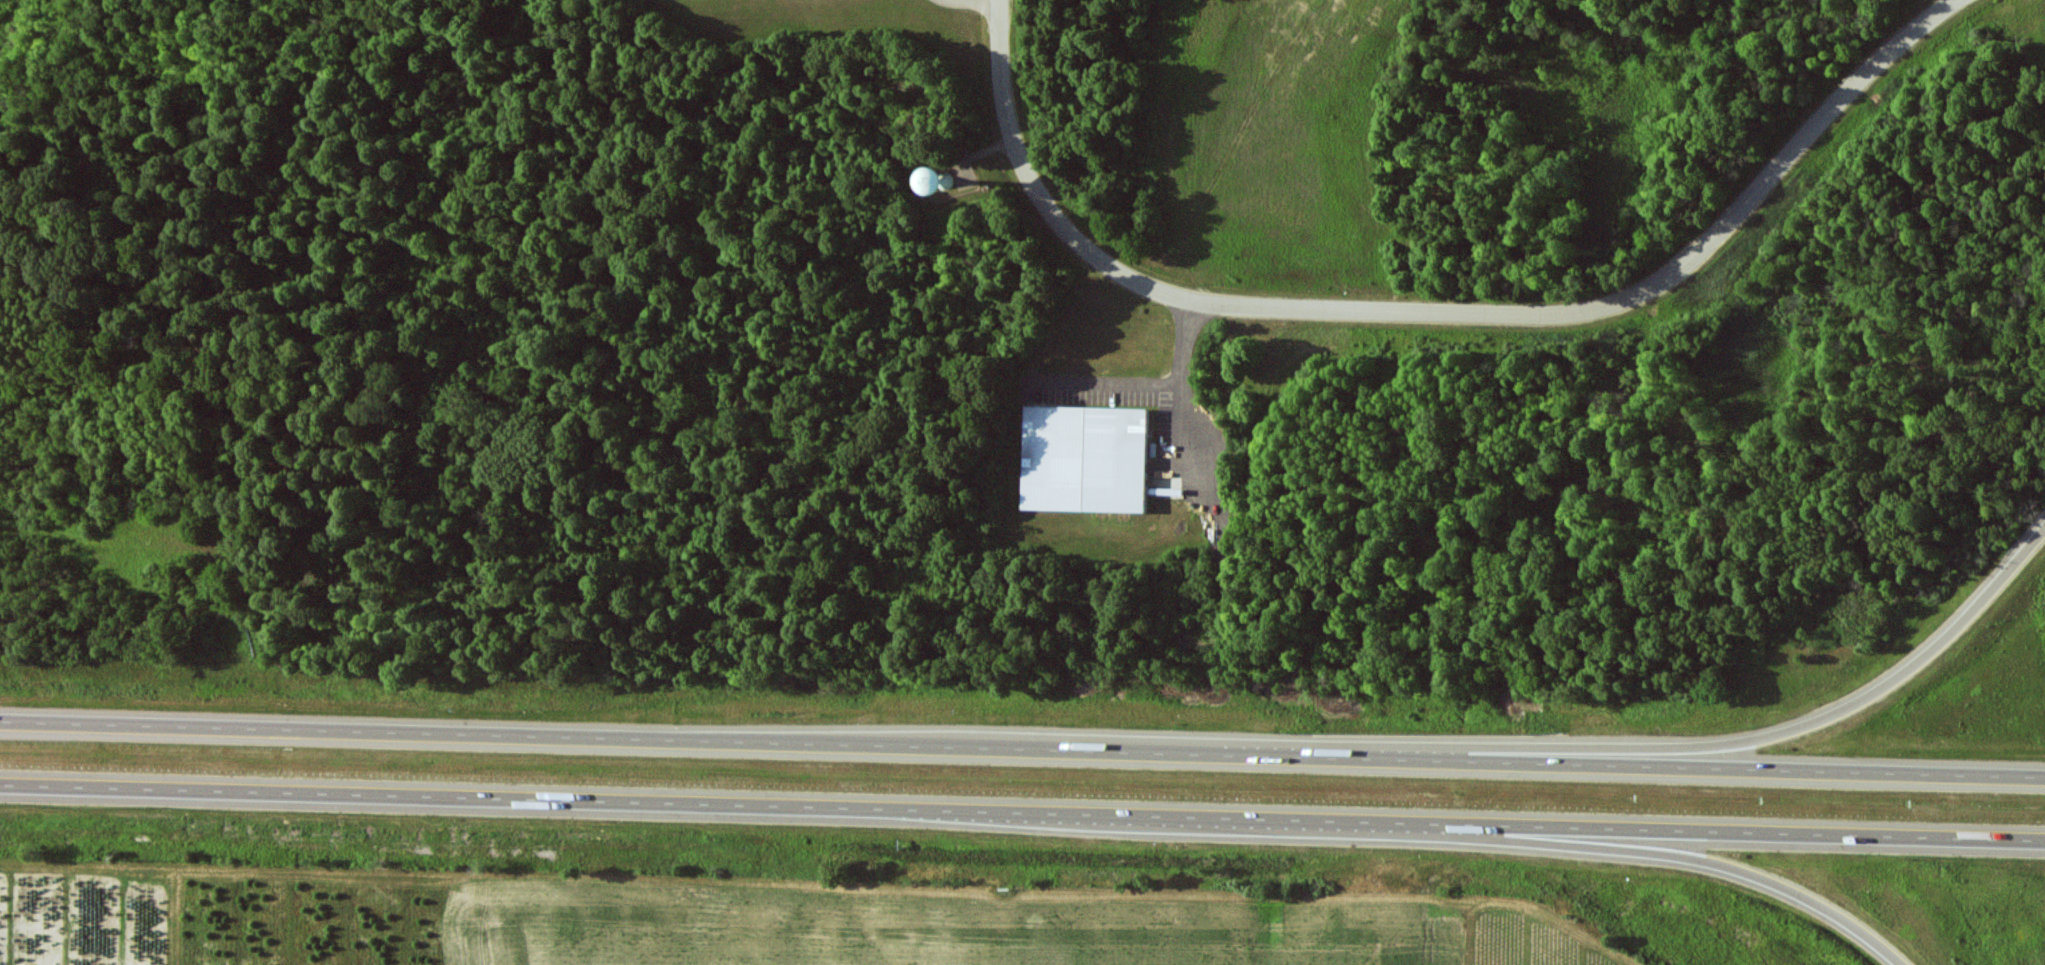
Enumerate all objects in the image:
building: (939, 182)
water tower: (944, 187)
road: (1439, 314)
road: (1148, 385)
road: (1187, 421)
building: (1085, 459)
road: (1725, 743)
road: (1022, 747)
road: (1022, 813)
road: (1661, 853)

